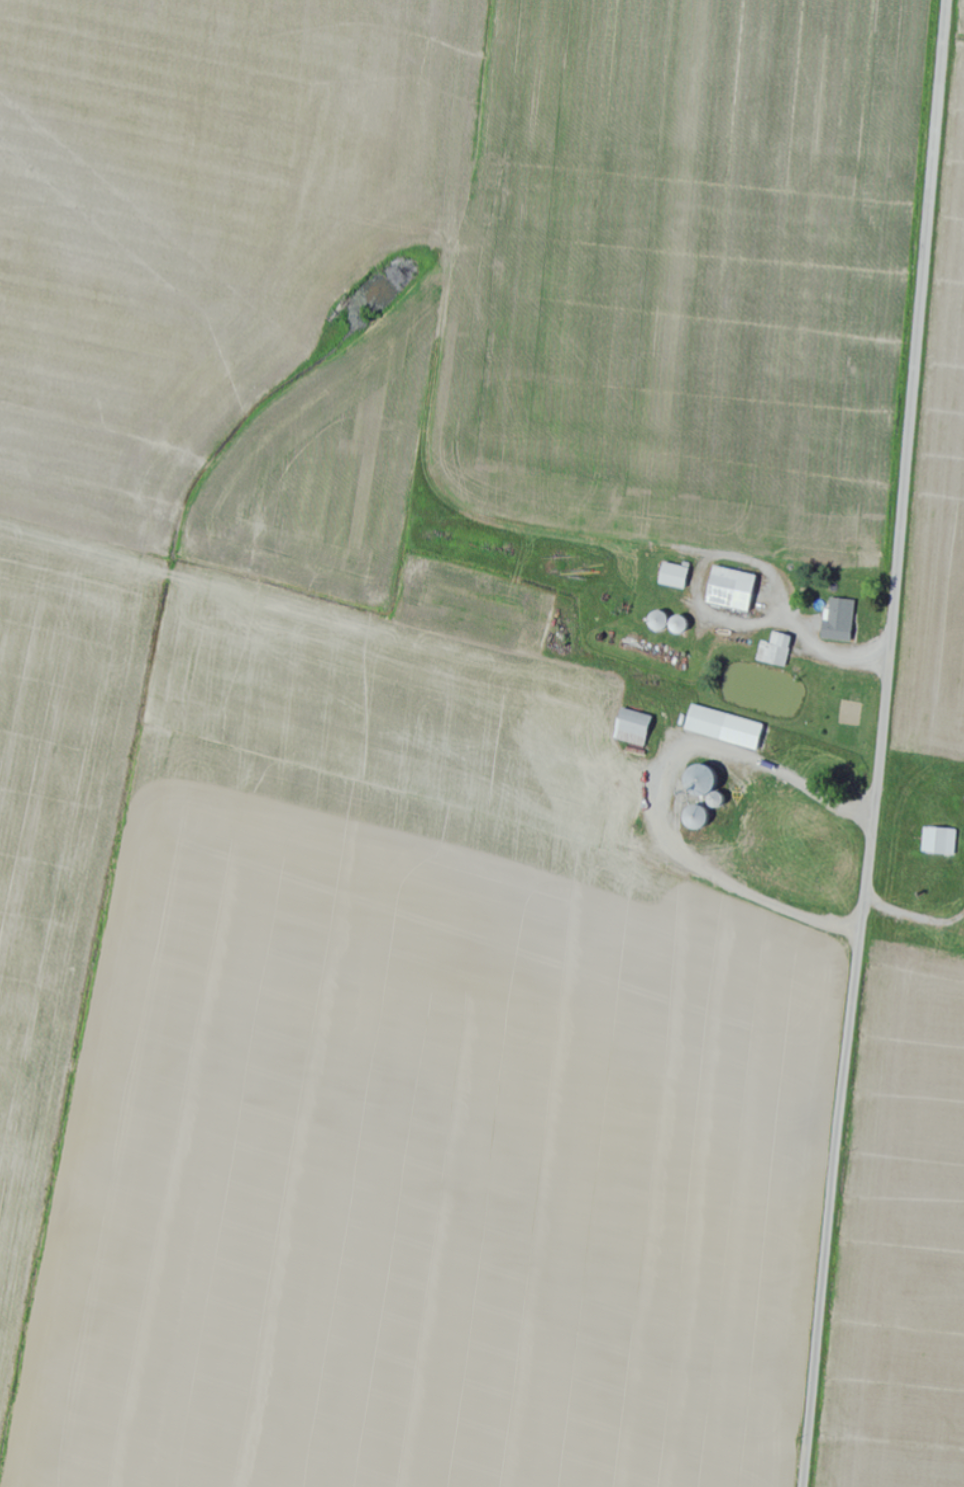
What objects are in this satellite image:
building: (671, 576)
building: (728, 589)
building: (838, 620)
building: (774, 650)
building: (721, 728)
road: (883, 744)
building: (938, 842)

